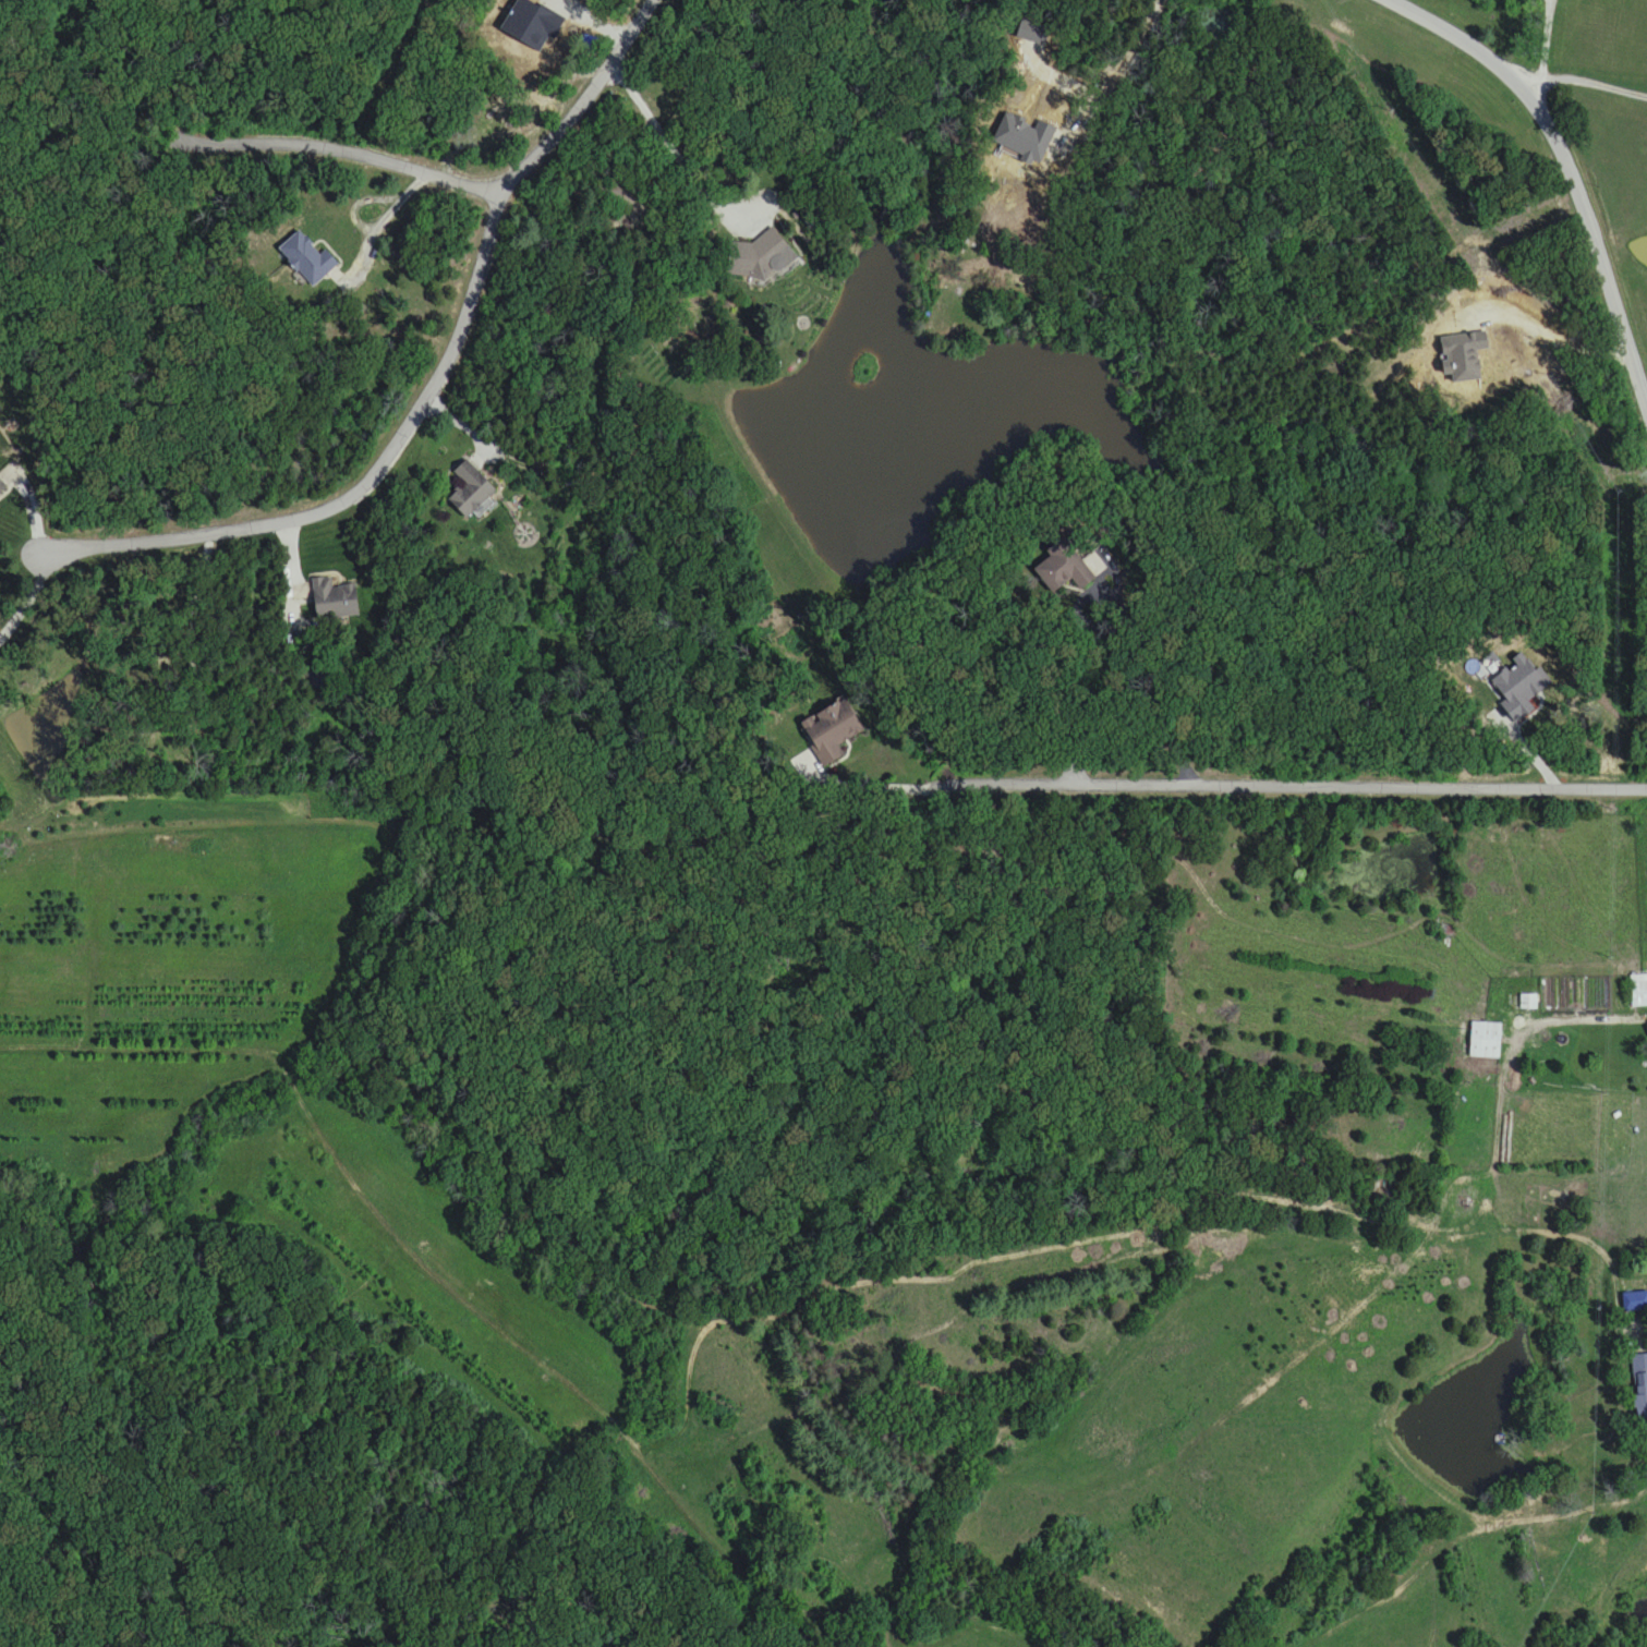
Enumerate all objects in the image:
road: (1545, 40)
road: (1119, 72)
road: (1592, 82)
road: (1531, 84)
road: (668, 140)
road: (1567, 159)
road: (456, 185)
building: (304, 258)
building: (756, 259)
building: (1, 486)
building: (468, 488)
road: (362, 489)
building: (334, 597)
road: (1149, 674)
building: (832, 731)
road: (882, 774)
road: (1299, 776)
building: (1638, 990)
road: (1455, 1008)
building: (1486, 1040)
building: (1633, 1301)
building: (1639, 1388)

